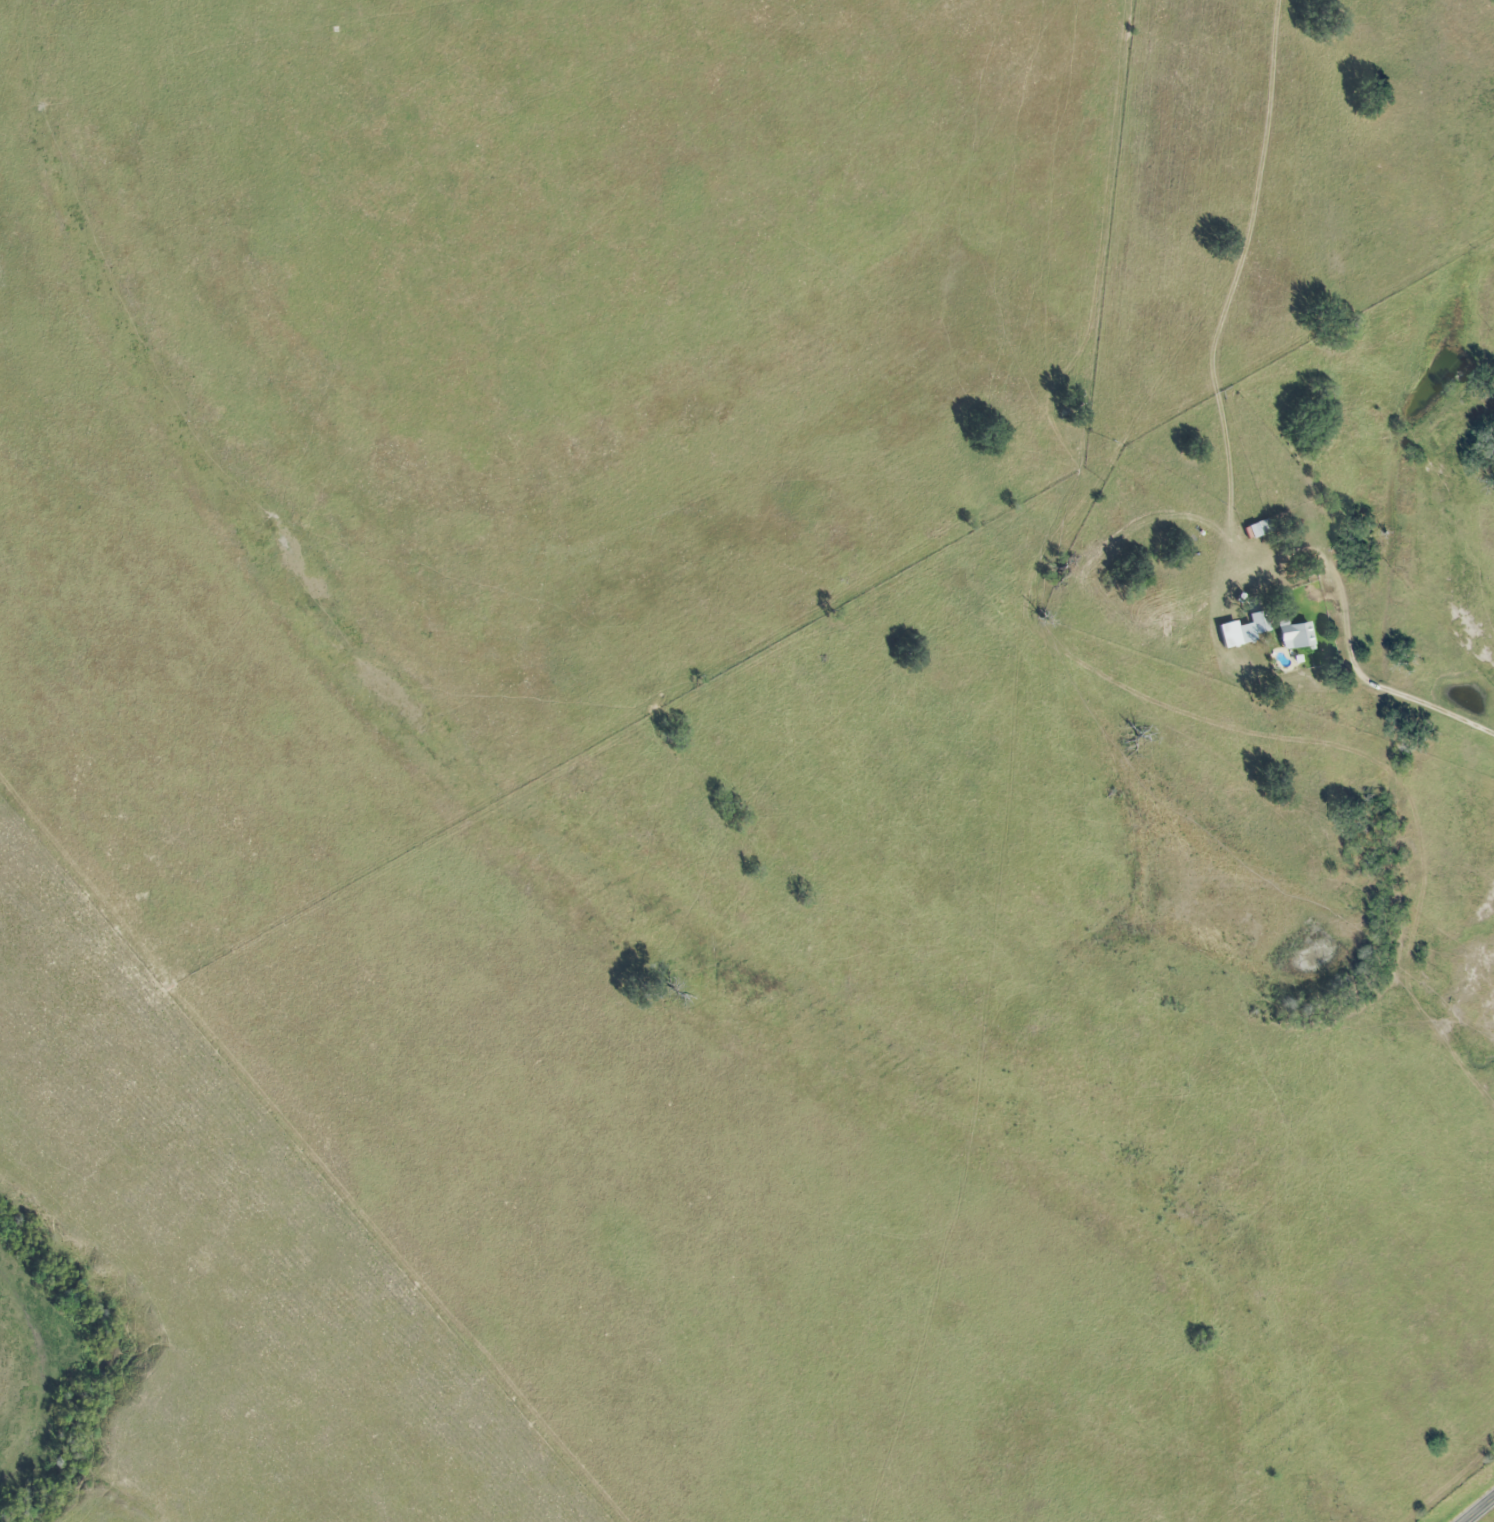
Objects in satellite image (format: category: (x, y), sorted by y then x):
building: (1253, 628)
building: (1295, 636)
road: (1362, 677)
river: (113, 1369)
road: (1479, 1510)

